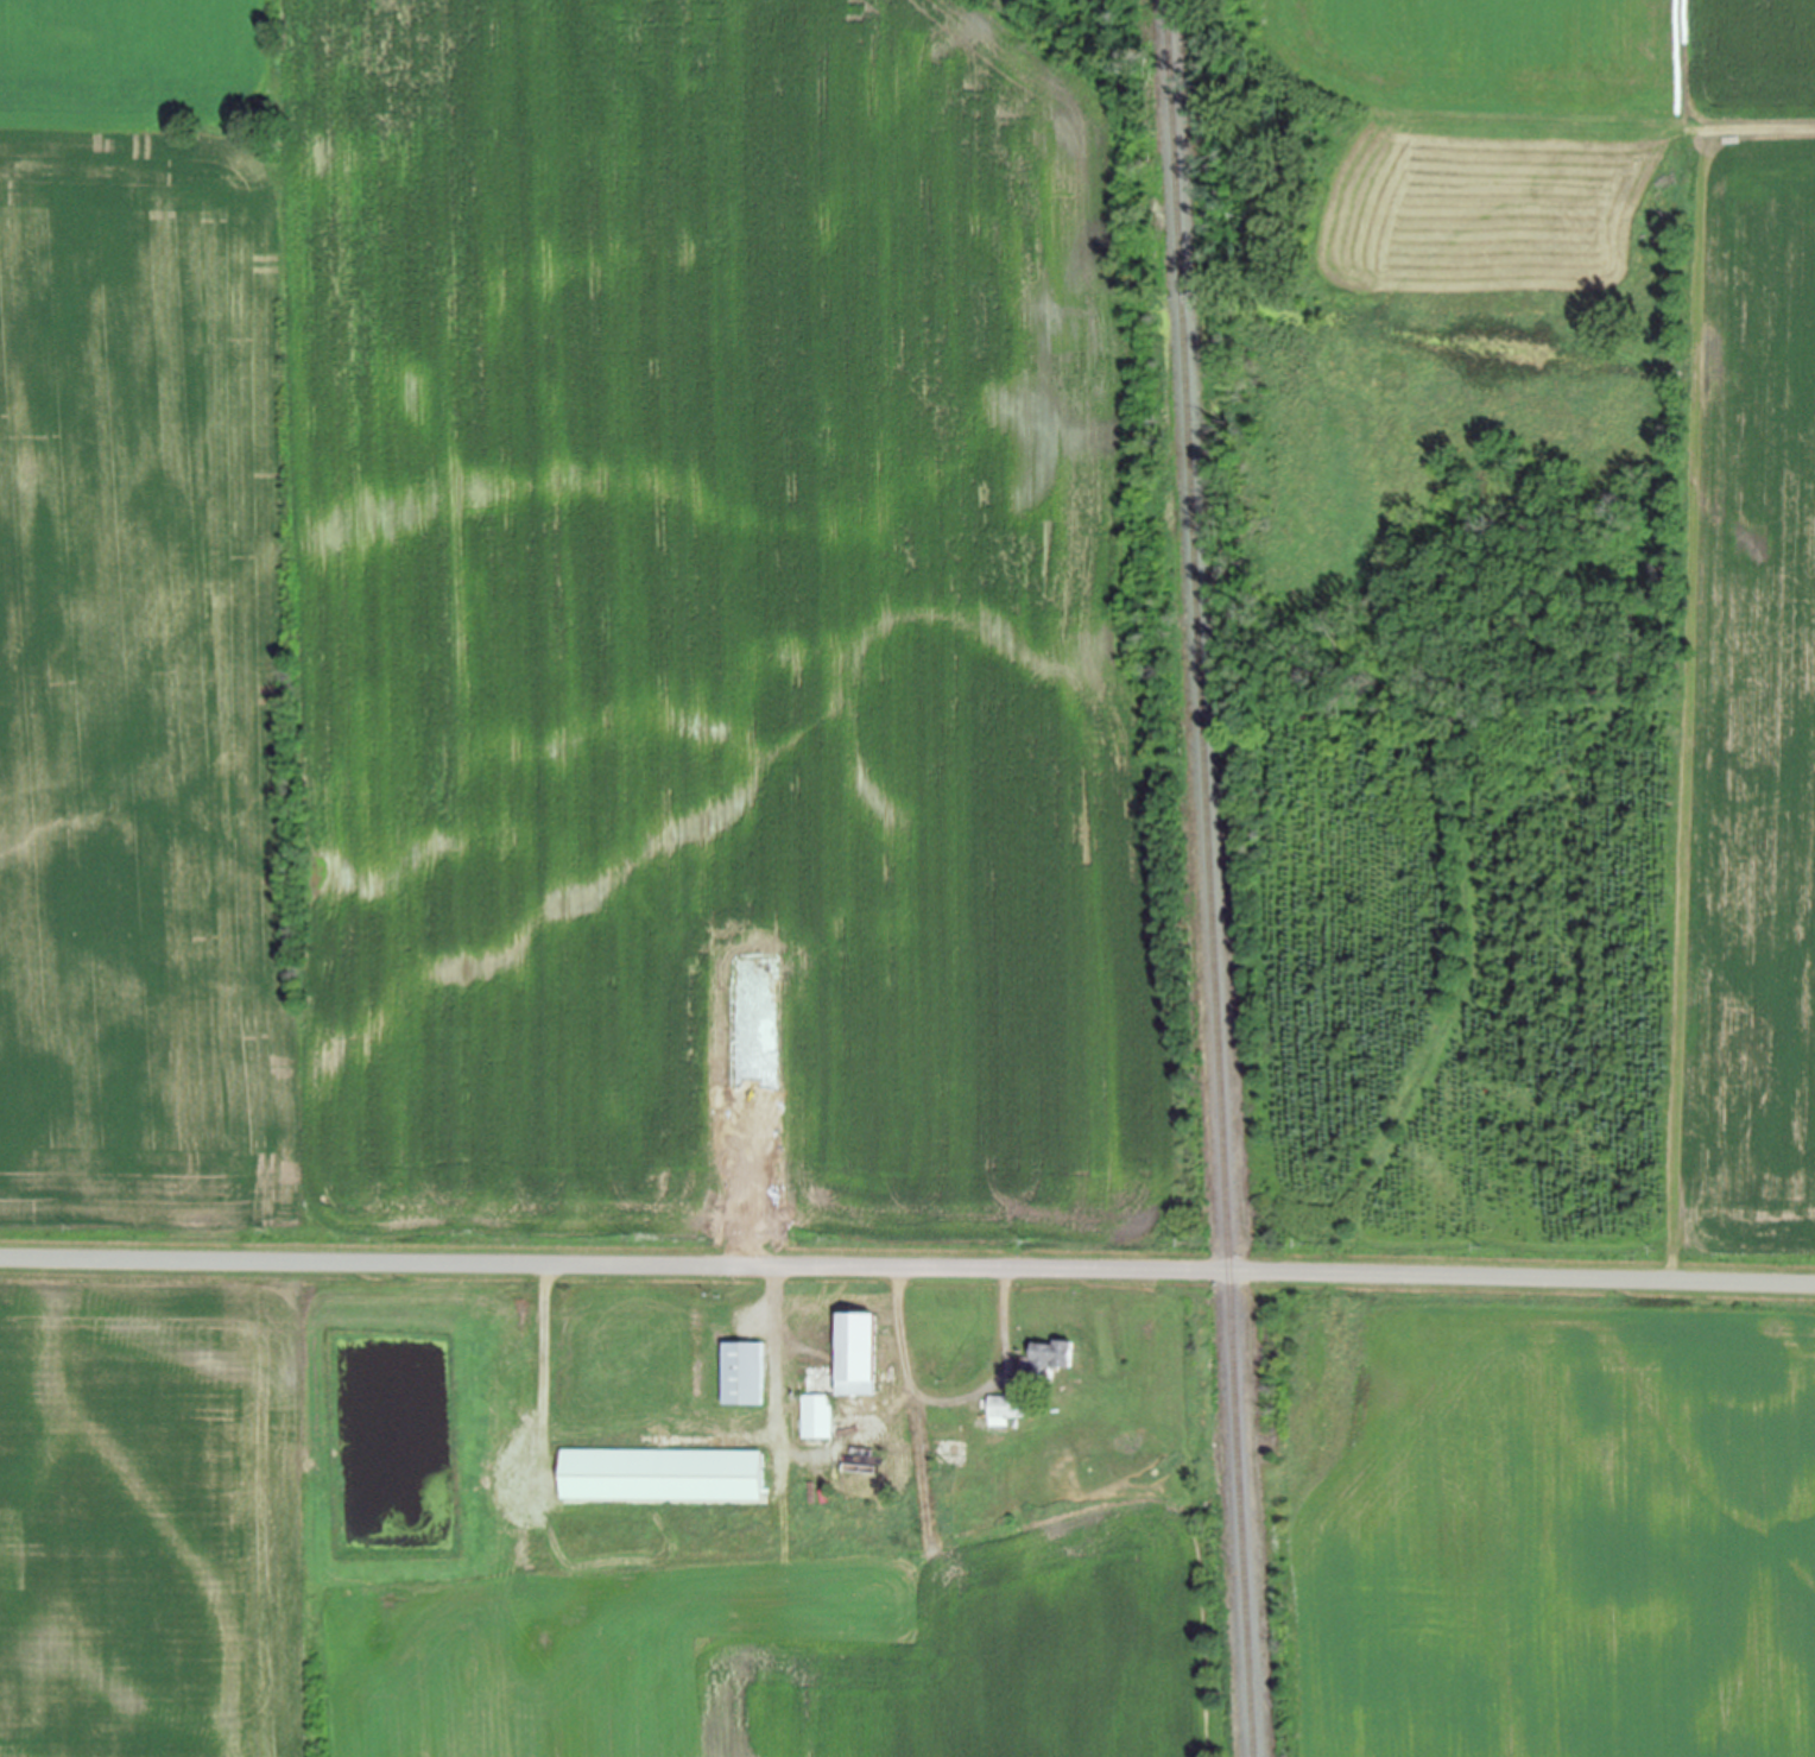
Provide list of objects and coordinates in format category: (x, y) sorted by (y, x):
building: (1657, 251)
railway: (1208, 878)
road: (907, 1266)
building: (1055, 1357)
building: (746, 1373)
building: (843, 1374)
road: (966, 1389)
building: (1010, 1408)
building: (994, 1423)
building: (665, 1474)
building: (849, 1490)

